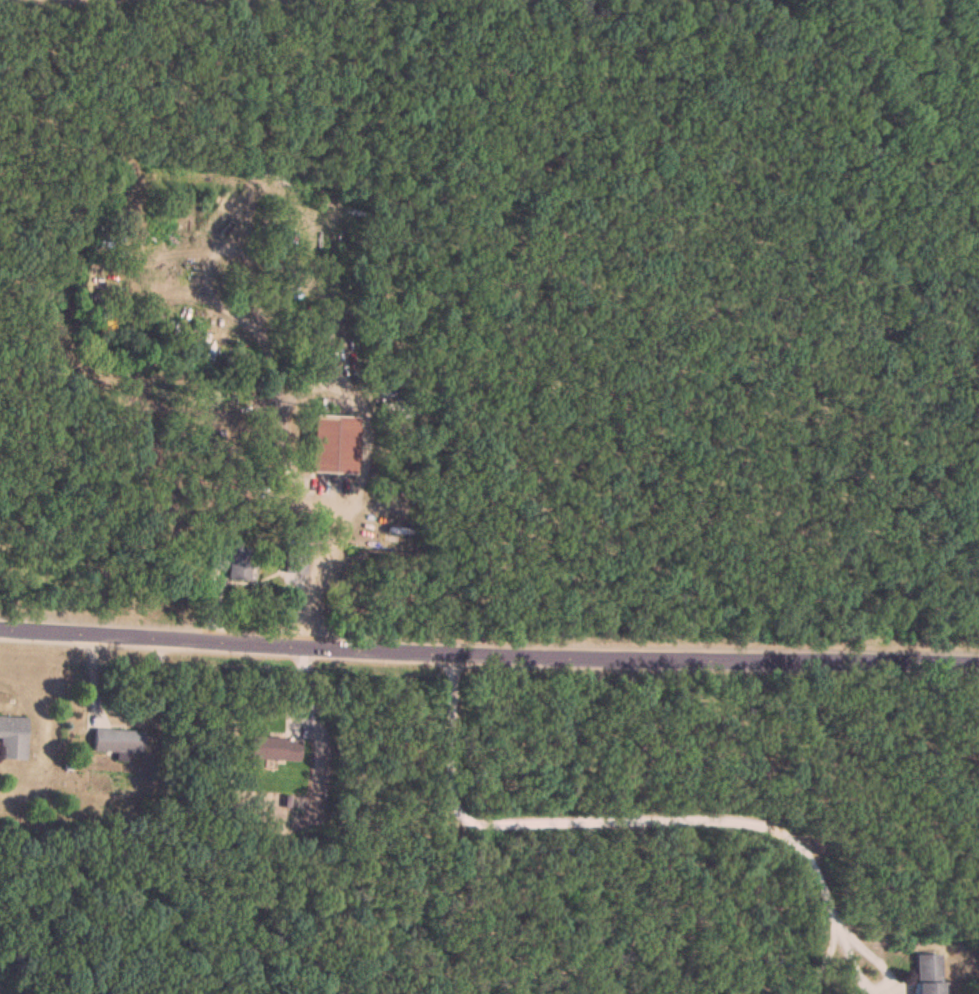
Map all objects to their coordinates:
building: (332, 442)
building: (231, 561)
road: (489, 644)
building: (12, 737)
building: (117, 740)
building: (275, 748)
road: (617, 820)
road: (818, 963)
building: (926, 973)

